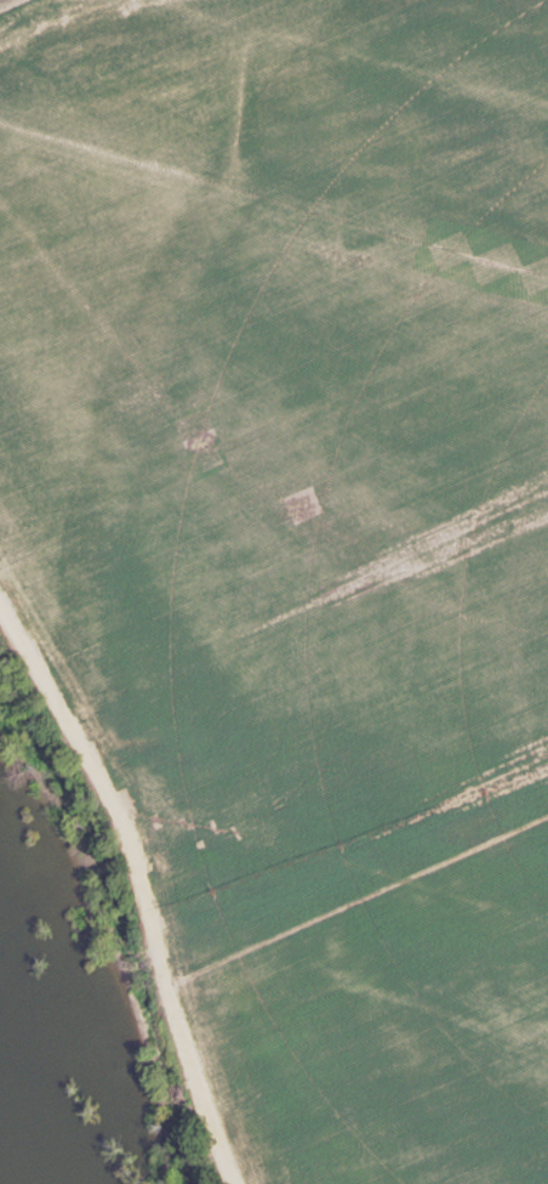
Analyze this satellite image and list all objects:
road: (129, 896)

